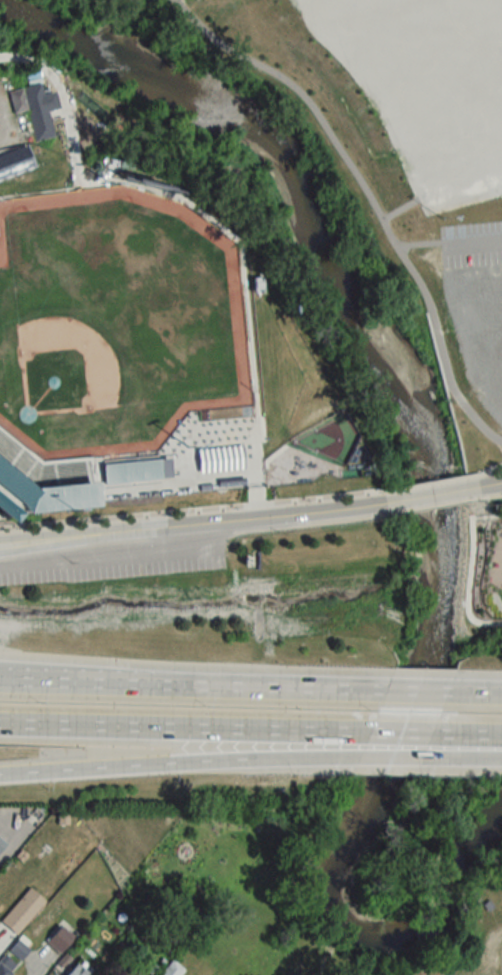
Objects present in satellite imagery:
parking lot: (426, 86)
building: (33, 104)
road: (6, 147)
building: (14, 158)
road: (367, 198)
road: (402, 208)
road: (204, 215)
road: (470, 239)
parking lot: (470, 242)
road: (415, 243)
building: (473, 284)
road: (270, 453)
building: (223, 456)
road: (223, 456)
road: (190, 458)
road: (38, 459)
building: (128, 467)
road: (128, 467)
road: (487, 471)
stadium: (43, 475)
building: (232, 481)
road: (428, 483)
road: (489, 483)
river: (434, 487)
road: (432, 493)
road: (492, 494)
road: (255, 499)
building: (6, 505)
road: (191, 509)
road: (194, 522)
road: (118, 555)
road: (494, 565)
road: (468, 568)
park: (482, 578)
road: (54, 687)
road: (244, 690)
road: (422, 691)
road: (483, 692)
road: (184, 726)
road: (413, 733)
road: (480, 734)
road: (478, 751)
road: (406, 755)
road: (292, 758)
road: (113, 766)
building: (2, 845)
building: (23, 910)
building: (60, 939)
building: (21, 947)
road: (38, 961)
building: (482, 964)
building: (172, 969)
building: (4, 970)
building: (78, 971)

